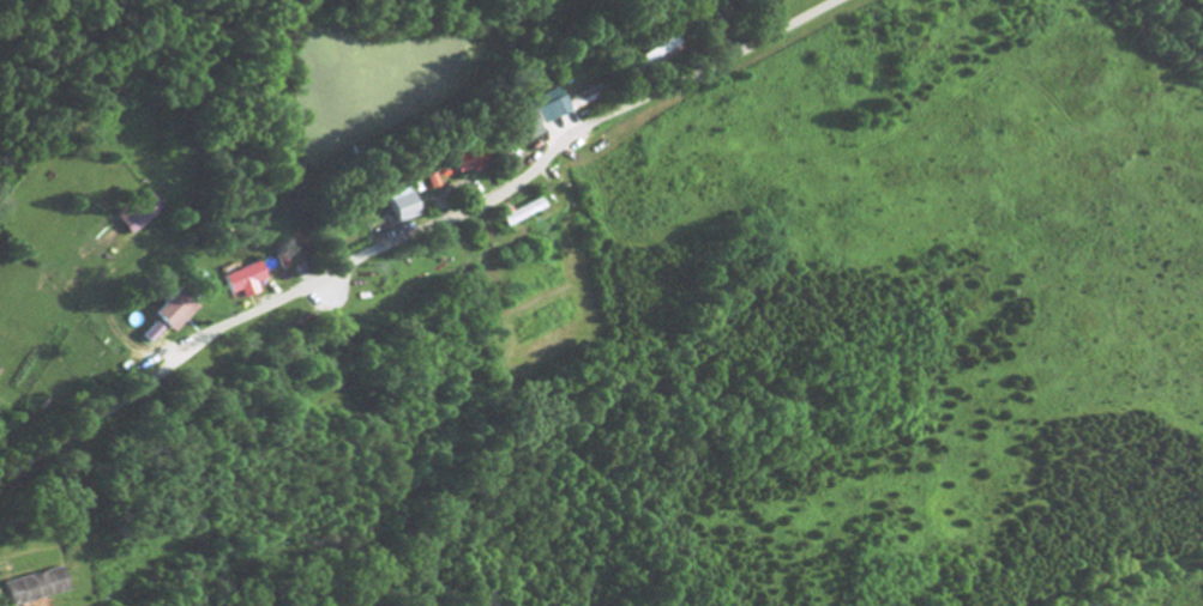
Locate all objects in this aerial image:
building: (553, 108)
building: (528, 129)
building: (475, 162)
road: (524, 176)
building: (405, 207)
building: (143, 216)
building: (248, 283)
building: (179, 313)
building: (155, 335)
road: (98, 410)
building: (41, 589)

